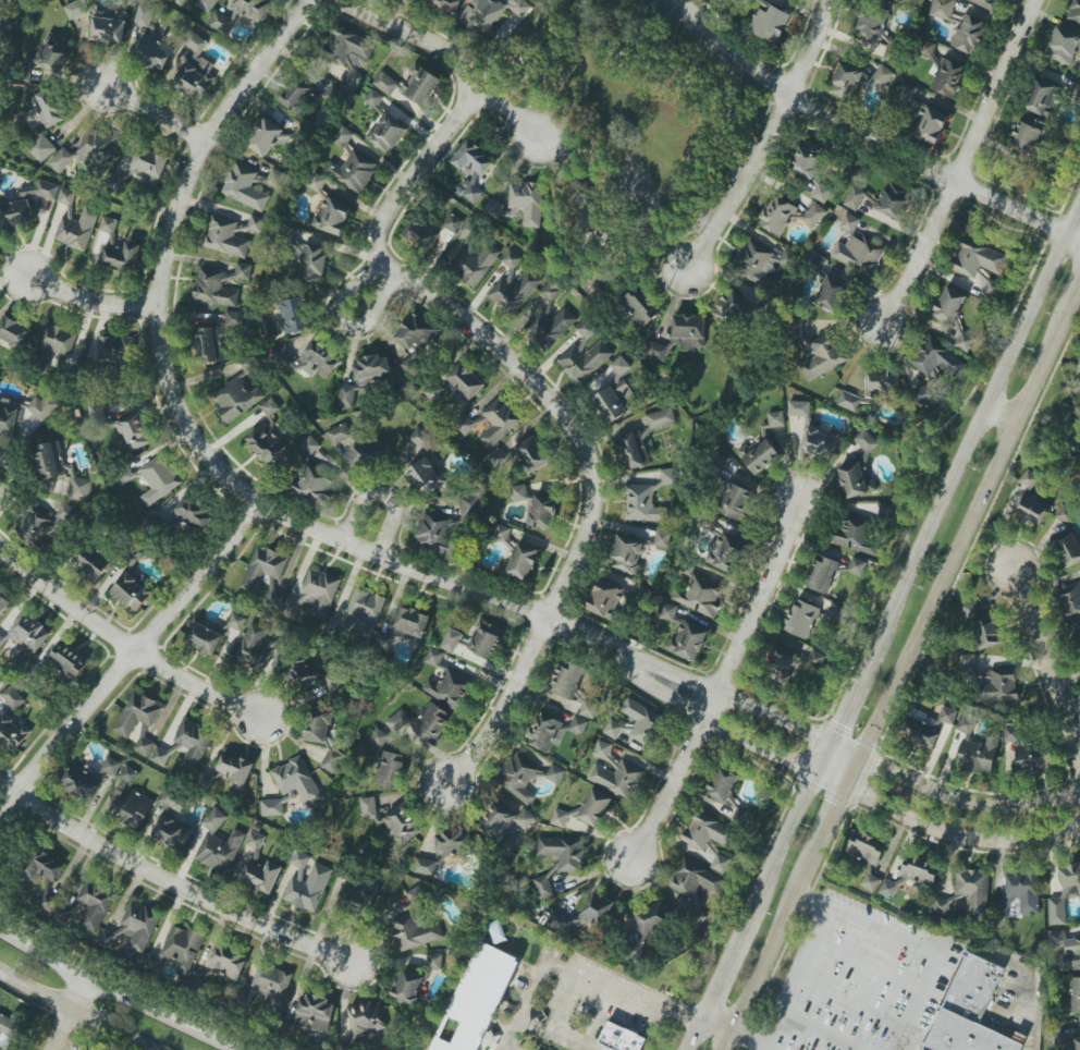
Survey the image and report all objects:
building: (180, 1)
building: (985, 3)
building: (207, 4)
building: (444, 5)
building: (75, 9)
building: (942, 9)
building: (1075, 11)
building: (241, 13)
building: (489, 13)
building: (770, 23)
building: (871, 25)
building: (109, 26)
building: (146, 34)
building: (968, 34)
road: (421, 39)
building: (1064, 46)
building: (928, 49)
building: (892, 50)
building: (54, 53)
building: (348, 56)
building: (196, 69)
building: (882, 76)
building: (948, 77)
building: (846, 81)
building: (385, 83)
building: (419, 85)
building: (909, 93)
building: (295, 96)
building: (373, 98)
building: (1043, 98)
road: (510, 107)
building: (45, 110)
road: (155, 112)
building: (929, 124)
building: (386, 133)
building: (1028, 133)
building: (343, 135)
building: (266, 138)
road: (868, 139)
road: (766, 141)
building: (40, 148)
building: (97, 150)
building: (61, 160)
road: (966, 162)
building: (811, 167)
building: (144, 168)
building: (471, 169)
building: (352, 171)
building: (273, 179)
building: (244, 187)
building: (66, 196)
building: (855, 198)
building: (894, 200)
building: (527, 202)
building: (25, 204)
building: (813, 215)
building: (777, 216)
building: (256, 223)
building: (453, 223)
building: (470, 228)
building: (77, 229)
building: (420, 234)
building: (228, 237)
building: (119, 247)
road: (169, 247)
building: (857, 248)
building: (512, 258)
building: (978, 258)
building: (475, 261)
building: (310, 262)
building: (760, 262)
building: (243, 271)
building: (214, 286)
building: (552, 289)
building: (993, 289)
building: (514, 292)
building: (831, 294)
road: (91, 298)
building: (735, 303)
building: (949, 305)
building: (640, 306)
building: (296, 314)
road: (340, 319)
building: (550, 327)
building: (587, 329)
building: (14, 332)
building: (415, 335)
building: (682, 335)
building: (217, 338)
building: (965, 340)
building: (54, 341)
building: (115, 351)
building: (822, 357)
building: (284, 358)
building: (320, 358)
building: (936, 358)
building: (584, 361)
building: (1079, 361)
building: (365, 377)
building: (881, 382)
building: (465, 383)
building: (615, 394)
building: (236, 399)
building: (848, 401)
building: (42, 406)
building: (799, 408)
road: (562, 411)
building: (9, 416)
building: (661, 418)
building: (775, 419)
building: (499, 422)
building: (467, 424)
building: (267, 434)
building: (339, 434)
building: (134, 435)
building: (421, 438)
building: (820, 441)
building: (866, 441)
building: (309, 445)
building: (633, 450)
building: (372, 451)
building: (760, 455)
building: (50, 460)
road: (11, 476)
building: (427, 477)
building: (668, 478)
building: (159, 479)
building: (1029, 479)
building: (855, 480)
building: (315, 488)
building: (79, 489)
building: (519, 493)
road: (381, 497)
building: (735, 501)
building: (642, 503)
building: (1031, 510)
building: (543, 512)
building: (194, 513)
building: (1066, 514)
building: (45, 522)
building: (447, 527)
building: (502, 533)
building: (855, 535)
building: (1067, 547)
building: (636, 549)
building: (725, 552)
building: (523, 561)
building: (90, 564)
building: (857, 566)
building: (823, 573)
building: (266, 574)
building: (132, 591)
building: (315, 595)
building: (700, 595)
building: (604, 598)
building: (1069, 599)
building: (3, 603)
road: (889, 608)
building: (838, 615)
building: (801, 619)
building: (236, 621)
road: (561, 624)
building: (409, 625)
building: (983, 626)
building: (27, 633)
building: (684, 634)
building: (1077, 637)
building: (204, 638)
building: (487, 639)
building: (451, 640)
road: (125, 643)
building: (433, 657)
building: (817, 658)
building: (69, 660)
road: (130, 661)
building: (783, 661)
building: (967, 663)
road: (1045, 664)
road: (900, 670)
building: (310, 675)
building: (567, 680)
building: (449, 688)
road: (717, 688)
building: (997, 688)
building: (11, 696)
building: (588, 709)
building: (137, 713)
building: (947, 716)
building: (398, 721)
building: (432, 723)
building: (636, 723)
building: (578, 725)
building: (967, 725)
building: (319, 727)
building: (12, 732)
building: (547, 733)
building: (379, 738)
building: (193, 743)
building: (144, 745)
building: (602, 749)
building: (1027, 750)
traffic signals: (821, 755)
building: (160, 756)
building: (978, 756)
building: (332, 760)
building: (111, 766)
building: (389, 769)
building: (235, 770)
traffic signals: (854, 770)
building: (554, 773)
building: (127, 774)
building: (519, 777)
building: (617, 778)
building: (81, 781)
building: (722, 784)
building: (291, 786)
building: (173, 801)
building: (368, 807)
building: (594, 807)
building: (132, 808)
building: (560, 818)
road: (962, 818)
building: (505, 820)
building: (403, 823)
building: (707, 831)
building: (172, 833)
road: (959, 835)
building: (218, 844)
building: (452, 844)
building: (562, 852)
building: (867, 856)
building: (721, 864)
building: (259, 865)
building: (41, 866)
building: (425, 866)
building: (919, 871)
road: (173, 877)
building: (307, 882)
building: (542, 888)
building: (695, 888)
building: (887, 888)
building: (973, 889)
building: (1024, 891)
building: (1065, 892)
building: (417, 895)
building: (356, 901)
building: (48, 902)
building: (96, 905)
building: (941, 906)
building: (587, 916)
building: (653, 918)
building: (134, 930)
building: (415, 931)
road: (913, 941)
building: (1066, 950)
building: (434, 961)
building: (226, 964)
road: (581, 964)
road: (868, 965)
road: (796, 977)
parking lot: (855, 980)
building: (270, 985)
building: (407, 986)
road: (115, 993)
building: (1072, 997)
building: (479, 998)
road: (850, 1002)
building: (970, 1011)
road: (75, 1012)
road: (65, 1013)
building: (314, 1013)
building: (367, 1018)
road: (719, 1020)
road: (694, 1031)
building: (9, 1033)
building: (621, 1038)
road: (754, 1038)
building: (1075, 1043)
building: (82, 1049)

